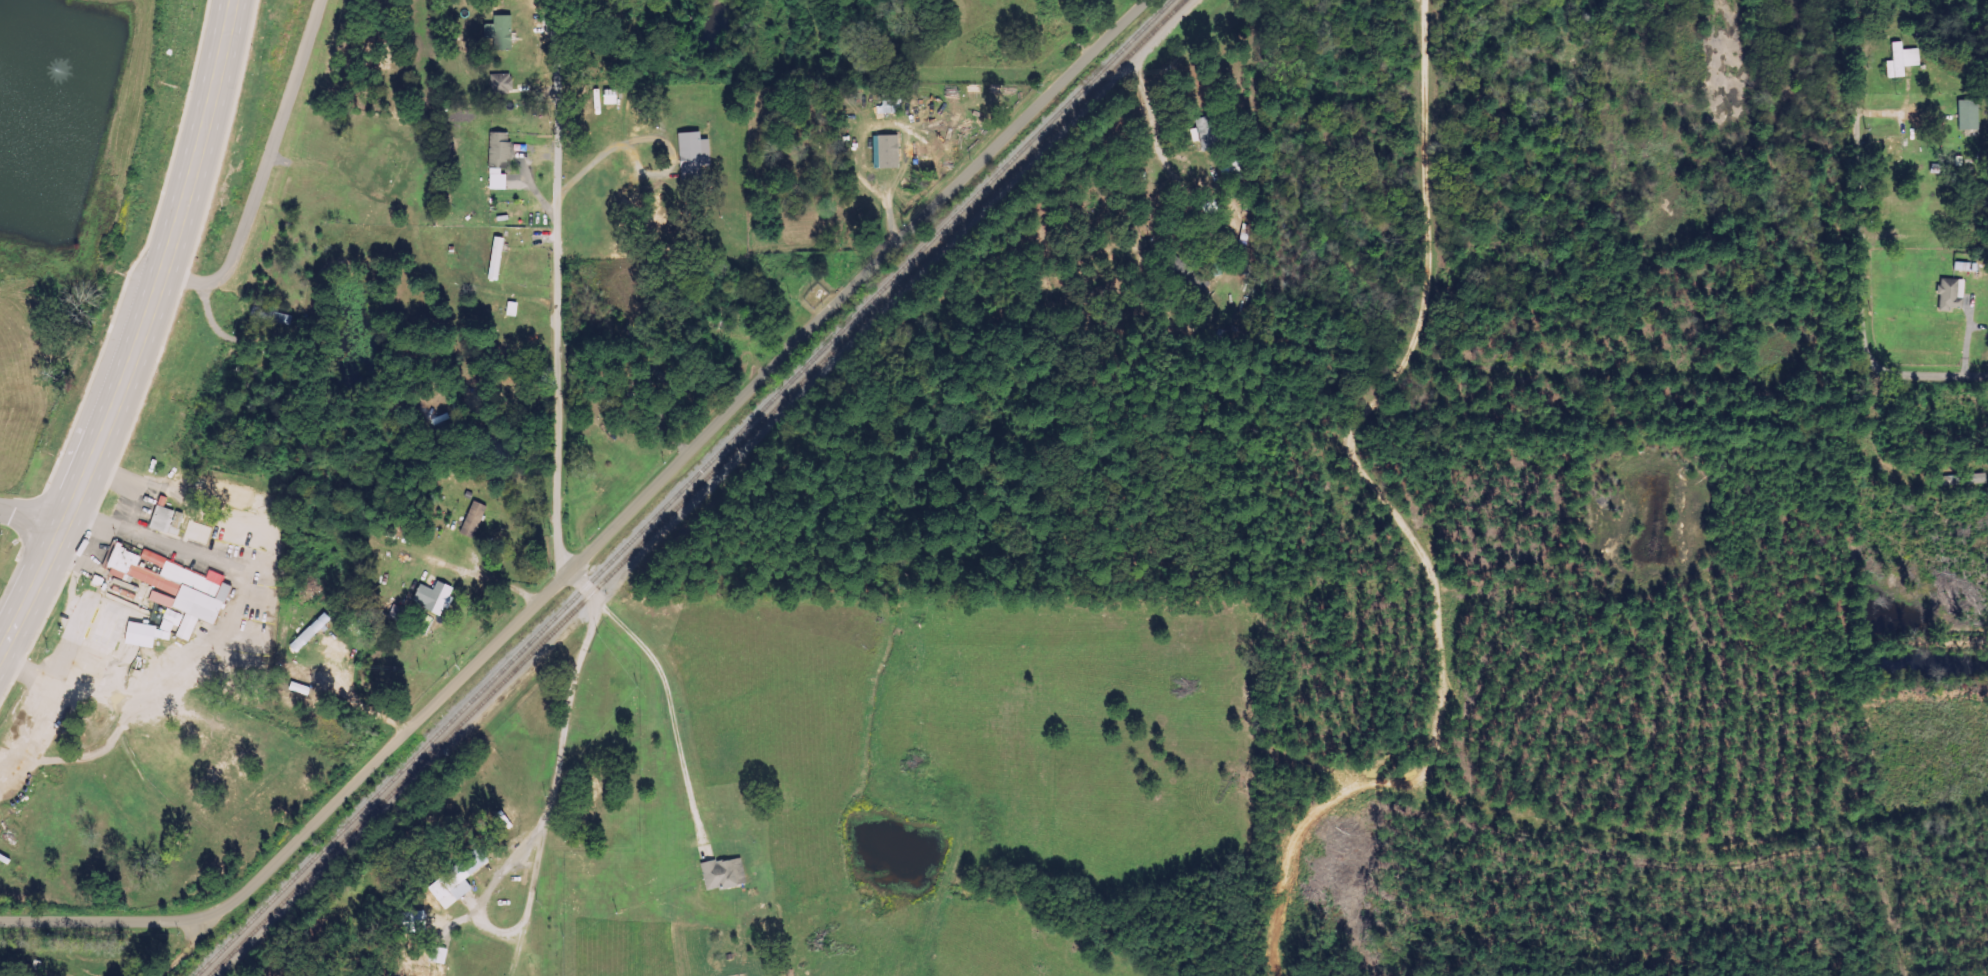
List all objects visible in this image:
building: (497, 32)
building: (1899, 60)
building: (499, 83)
building: (1966, 115)
road: (1003, 136)
building: (885, 152)
road: (597, 153)
building: (688, 156)
building: (497, 160)
road: (1862, 182)
building: (494, 259)
building: (1960, 265)
building: (1949, 293)
building: (510, 309)
road: (148, 340)
road: (1930, 374)
building: (1974, 478)
railway: (684, 488)
railway: (696, 488)
road: (551, 506)
road: (34, 516)
building: (159, 519)
building: (471, 519)
building: (172, 588)
building: (431, 596)
building: (138, 634)
road: (465, 673)
building: (721, 873)
building: (454, 880)
building: (410, 918)
building: (438, 956)

